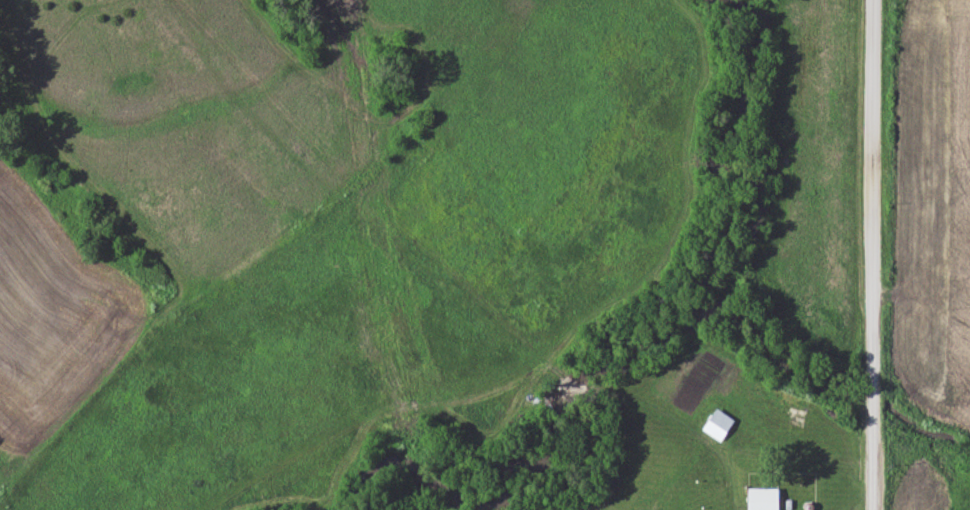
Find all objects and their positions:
road: (872, 255)
building: (792, 400)
building: (719, 424)
building: (771, 498)

